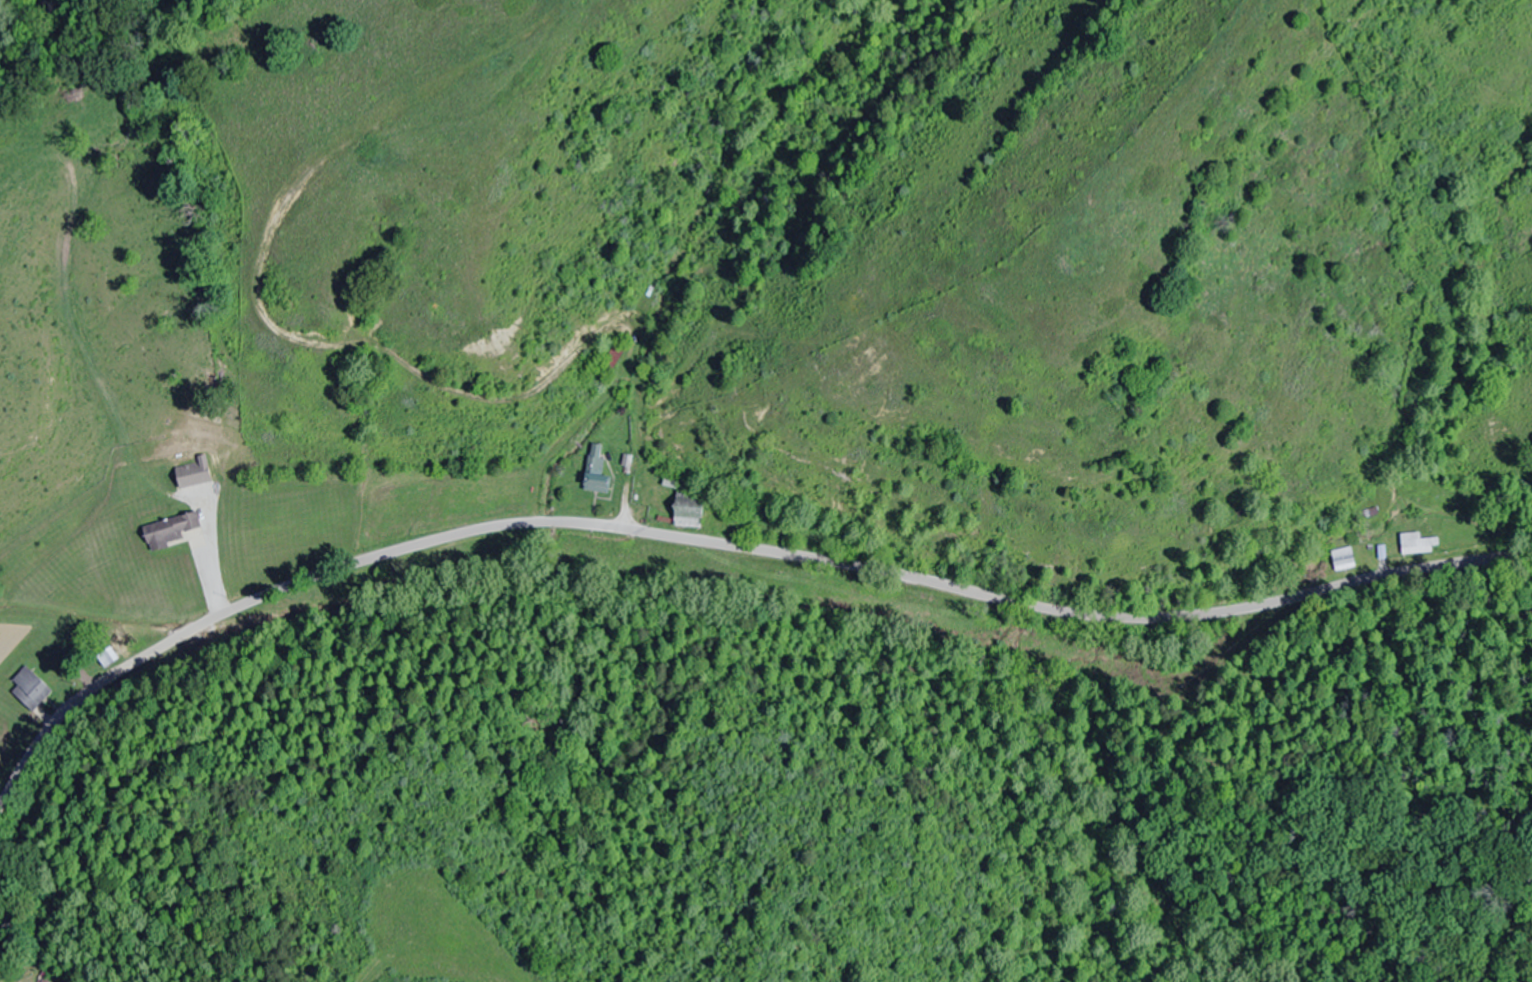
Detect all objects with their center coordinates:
building: (610, 356)
building: (595, 471)
building: (686, 514)
building: (169, 531)
building: (1417, 543)
road: (726, 545)
building: (1342, 558)
building: (107, 657)
building: (29, 688)
road: (129, 822)

